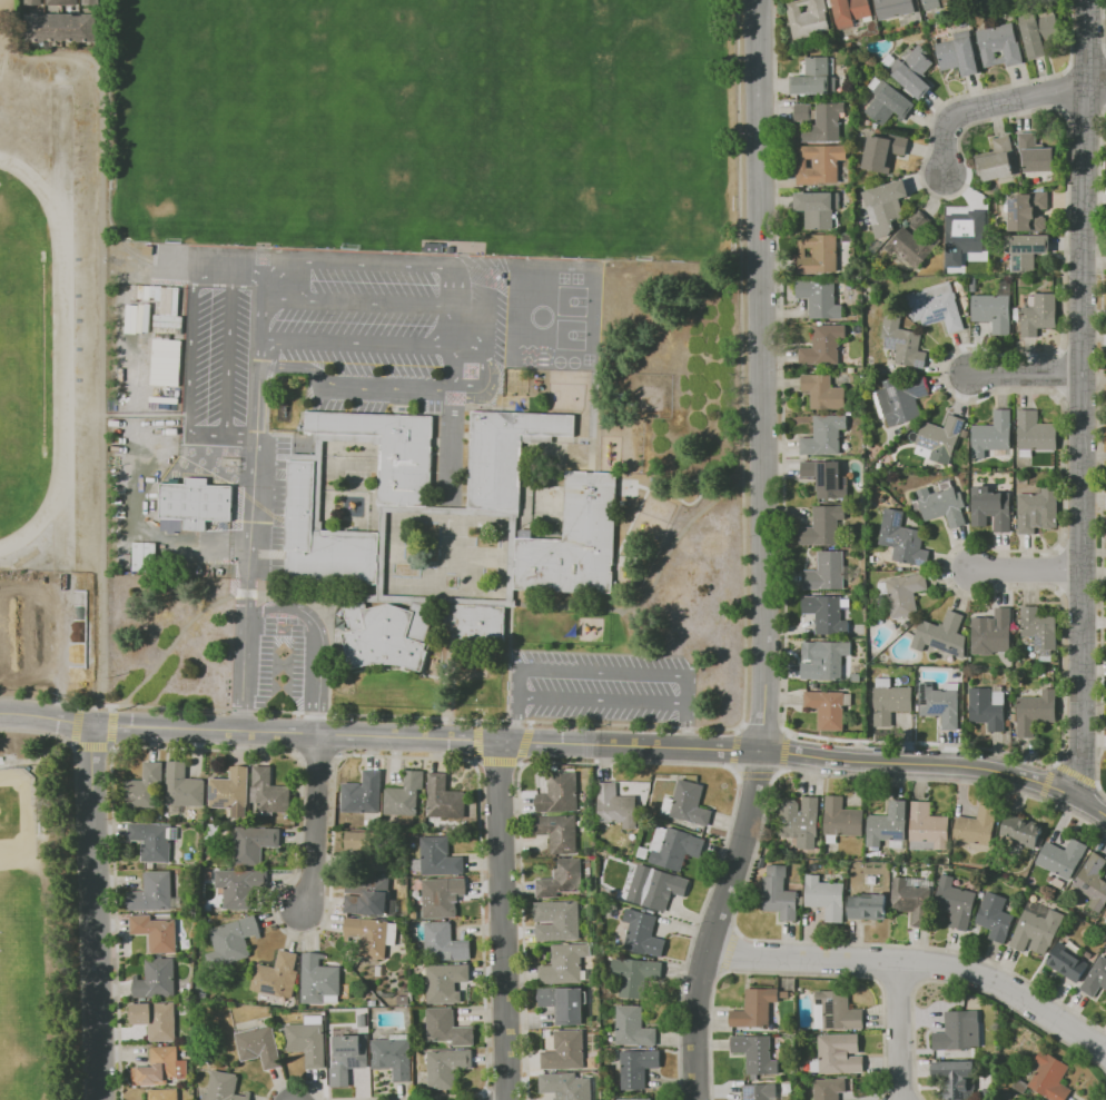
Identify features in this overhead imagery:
building: (31, 1)
building: (60, 1)
building: (90, 1)
building: (936, 3)
building: (893, 8)
park: (619, 10)
building: (850, 11)
building: (809, 18)
road: (1102, 26)
building: (61, 27)
building: (1038, 33)
building: (1000, 44)
building: (958, 54)
building: (914, 70)
building: (814, 78)
building: (875, 82)
road: (1095, 86)
road: (1105, 95)
park: (198, 102)
building: (888, 102)
park: (362, 103)
road: (990, 106)
building: (801, 111)
building: (824, 122)
building: (868, 122)
park: (424, 123)
building: (876, 125)
building: (883, 151)
park: (590, 152)
building: (1036, 153)
building: (998, 159)
building: (820, 163)
building: (885, 206)
building: (818, 209)
building: (1027, 211)
building: (965, 235)
building: (910, 245)
building: (1024, 251)
building: (818, 254)
park: (290, 264)
park: (220, 266)
building: (959, 285)
building: (974, 286)
building: (820, 296)
building: (872, 297)
park: (573, 301)
road: (377, 305)
building: (937, 306)
building: (993, 311)
building: (1016, 314)
building: (1039, 315)
building: (137, 318)
parking lot: (389, 319)
road: (490, 333)
track: (56, 334)
park: (571, 335)
building: (823, 345)
road: (376, 346)
building: (905, 346)
park: (23, 354)
building: (165, 361)
park: (217, 364)
road: (1028, 376)
road: (102, 389)
building: (822, 390)
road: (1079, 396)
building: (900, 399)
road: (258, 417)
building: (1036, 432)
building: (993, 434)
building: (824, 435)
building: (941, 438)
building: (389, 449)
road: (1100, 452)
building: (1026, 453)
building: (505, 454)
building: (826, 477)
building: (134, 497)
building: (196, 502)
building: (942, 503)
building: (300, 505)
building: (991, 508)
building: (1039, 509)
building: (823, 525)
building: (902, 538)
building: (575, 539)
road: (764, 554)
building: (142, 556)
building: (872, 558)
building: (901, 568)
road: (1035, 569)
building: (826, 571)
building: (906, 594)
building: (828, 613)
building: (906, 625)
building: (859, 626)
building: (1038, 627)
building: (994, 630)
building: (387, 633)
building: (941, 635)
road: (171, 646)
road: (314, 647)
road: (244, 656)
building: (1046, 656)
building: (827, 662)
building: (993, 663)
road: (604, 671)
parking lot: (280, 672)
building: (857, 677)
building: (966, 680)
building: (883, 681)
parking lot: (602, 687)
building: (890, 703)
building: (940, 703)
road: (602, 704)
building: (987, 706)
building: (829, 707)
building: (1036, 711)
road: (515, 721)
road: (689, 729)
road: (382, 739)
road: (65, 741)
road: (629, 760)
road: (939, 766)
road: (1075, 773)
road: (756, 776)
road: (39, 780)
road: (1045, 781)
building: (181, 785)
building: (146, 787)
building: (230, 789)
building: (268, 792)
building: (560, 792)
building: (363, 793)
building: (405, 794)
building: (444, 797)
road: (1088, 800)
building: (688, 803)
building: (616, 805)
building: (841, 817)
building: (799, 819)
park: (18, 820)
road: (312, 823)
building: (888, 824)
building: (977, 826)
building: (927, 828)
building: (1020, 831)
building: (556, 832)
building: (830, 839)
building: (152, 841)
building: (256, 844)
building: (371, 848)
building: (674, 848)
building: (440, 856)
building: (1061, 861)
building: (895, 869)
road: (745, 876)
building: (562, 878)
building: (1093, 881)
building: (240, 886)
building: (661, 889)
building: (152, 892)
building: (779, 893)
building: (442, 895)
building: (826, 896)
building: (372, 899)
building: (914, 899)
building: (956, 903)
building: (868, 906)
park: (48, 912)
road: (96, 912)
building: (1105, 914)
building: (995, 915)
road: (503, 921)
building: (556, 921)
building: (1037, 928)
building: (156, 932)
building: (642, 933)
building: (365, 938)
building: (231, 940)
building: (446, 943)
road: (729, 951)
building: (1088, 954)
building: (1067, 961)
road: (879, 963)
road: (924, 963)
road: (916, 964)
building: (566, 965)
road: (796, 973)
building: (633, 974)
building: (277, 975)
building: (1095, 978)
building: (156, 979)
building: (318, 979)
building: (446, 982)
road: (900, 982)
road: (978, 991)
building: (563, 1003)
building: (756, 1009)
building: (837, 1011)
building: (156, 1019)
building: (595, 1022)
building: (633, 1025)
building: (447, 1028)
road: (898, 1031)
building: (956, 1031)
building: (308, 1042)
building: (259, 1046)
building: (565, 1050)
building: (756, 1053)
building: (838, 1054)
building: (348, 1058)
building: (393, 1058)
building: (161, 1066)
building: (446, 1067)
building: (636, 1067)
building: (957, 1078)
building: (1049, 1078)
building: (566, 1087)
building: (224, 1088)
building: (828, 1089)
building: (760, 1091)
building: (164, 1093)
building: (635, 1099)

